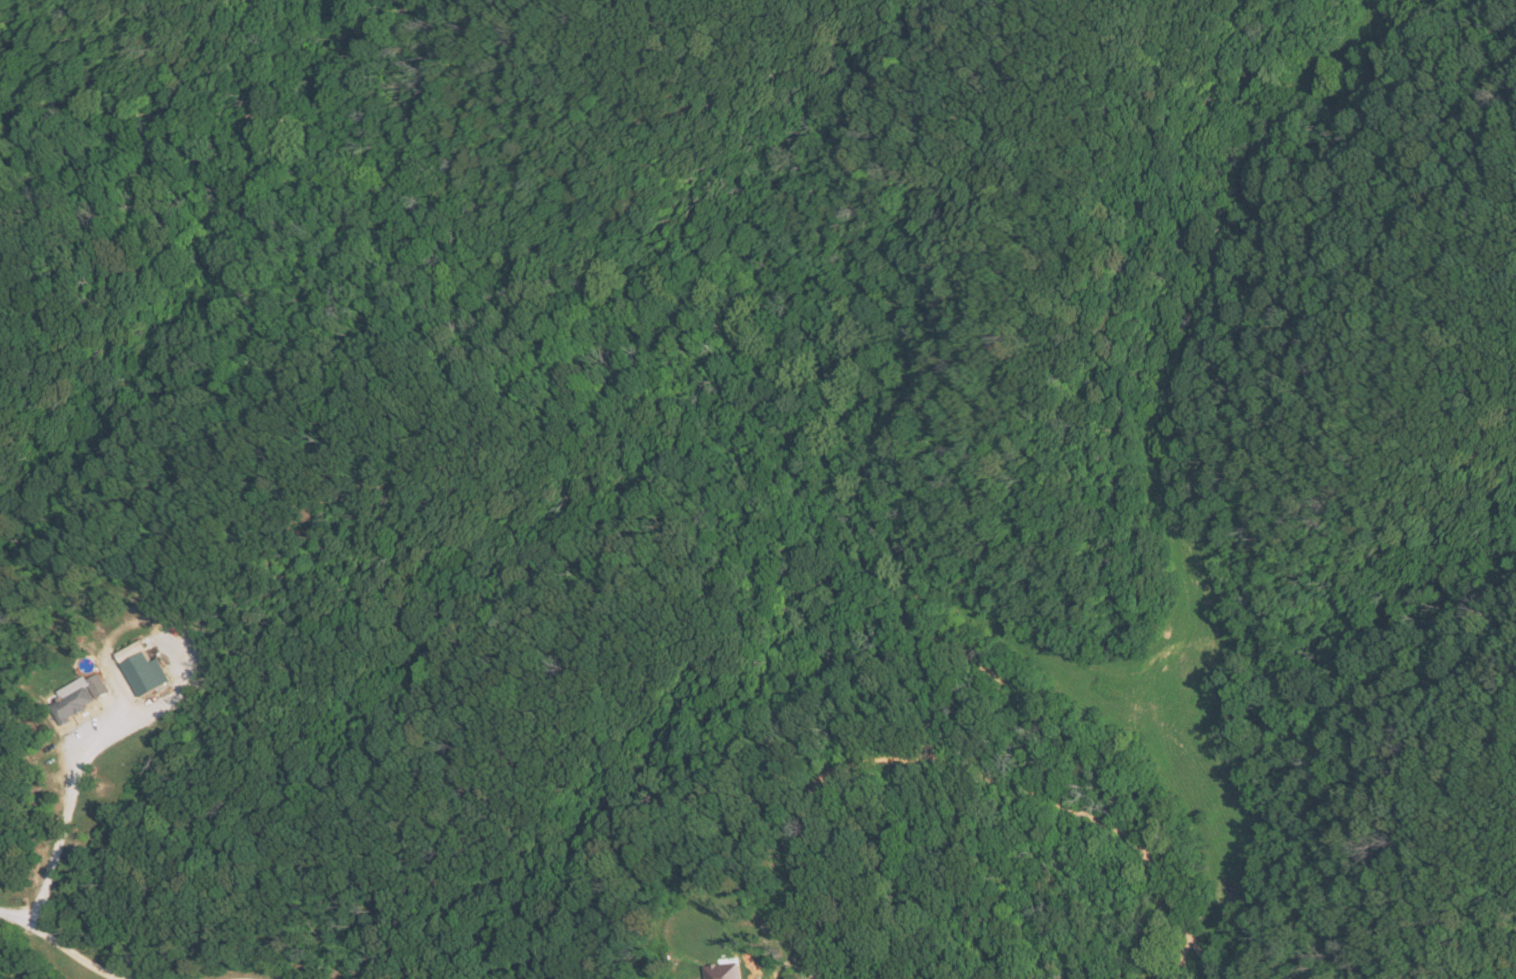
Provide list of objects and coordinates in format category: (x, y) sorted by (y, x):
building: (138, 648)
building: (147, 673)
building: (82, 696)
road: (956, 771)
road: (58, 946)
building: (722, 971)

